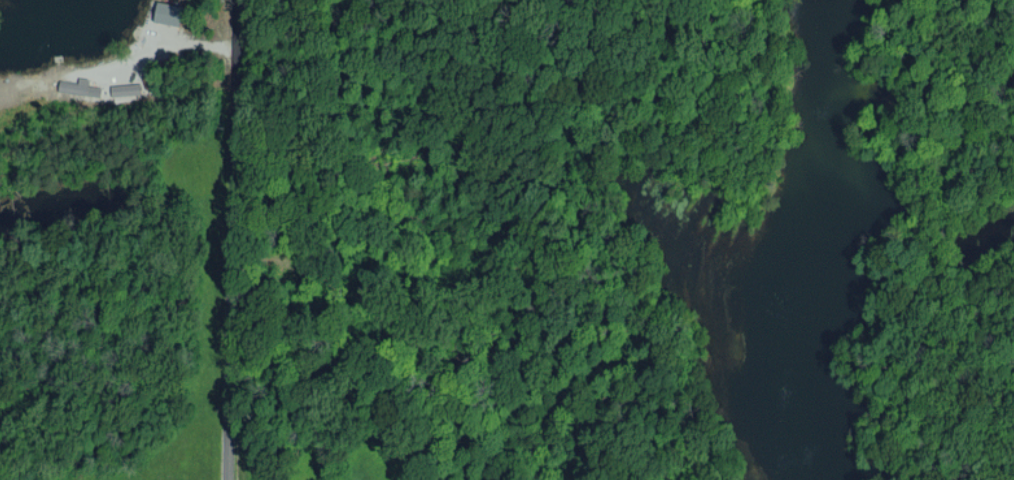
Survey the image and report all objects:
building: (170, 13)
building: (126, 88)
road: (234, 240)

